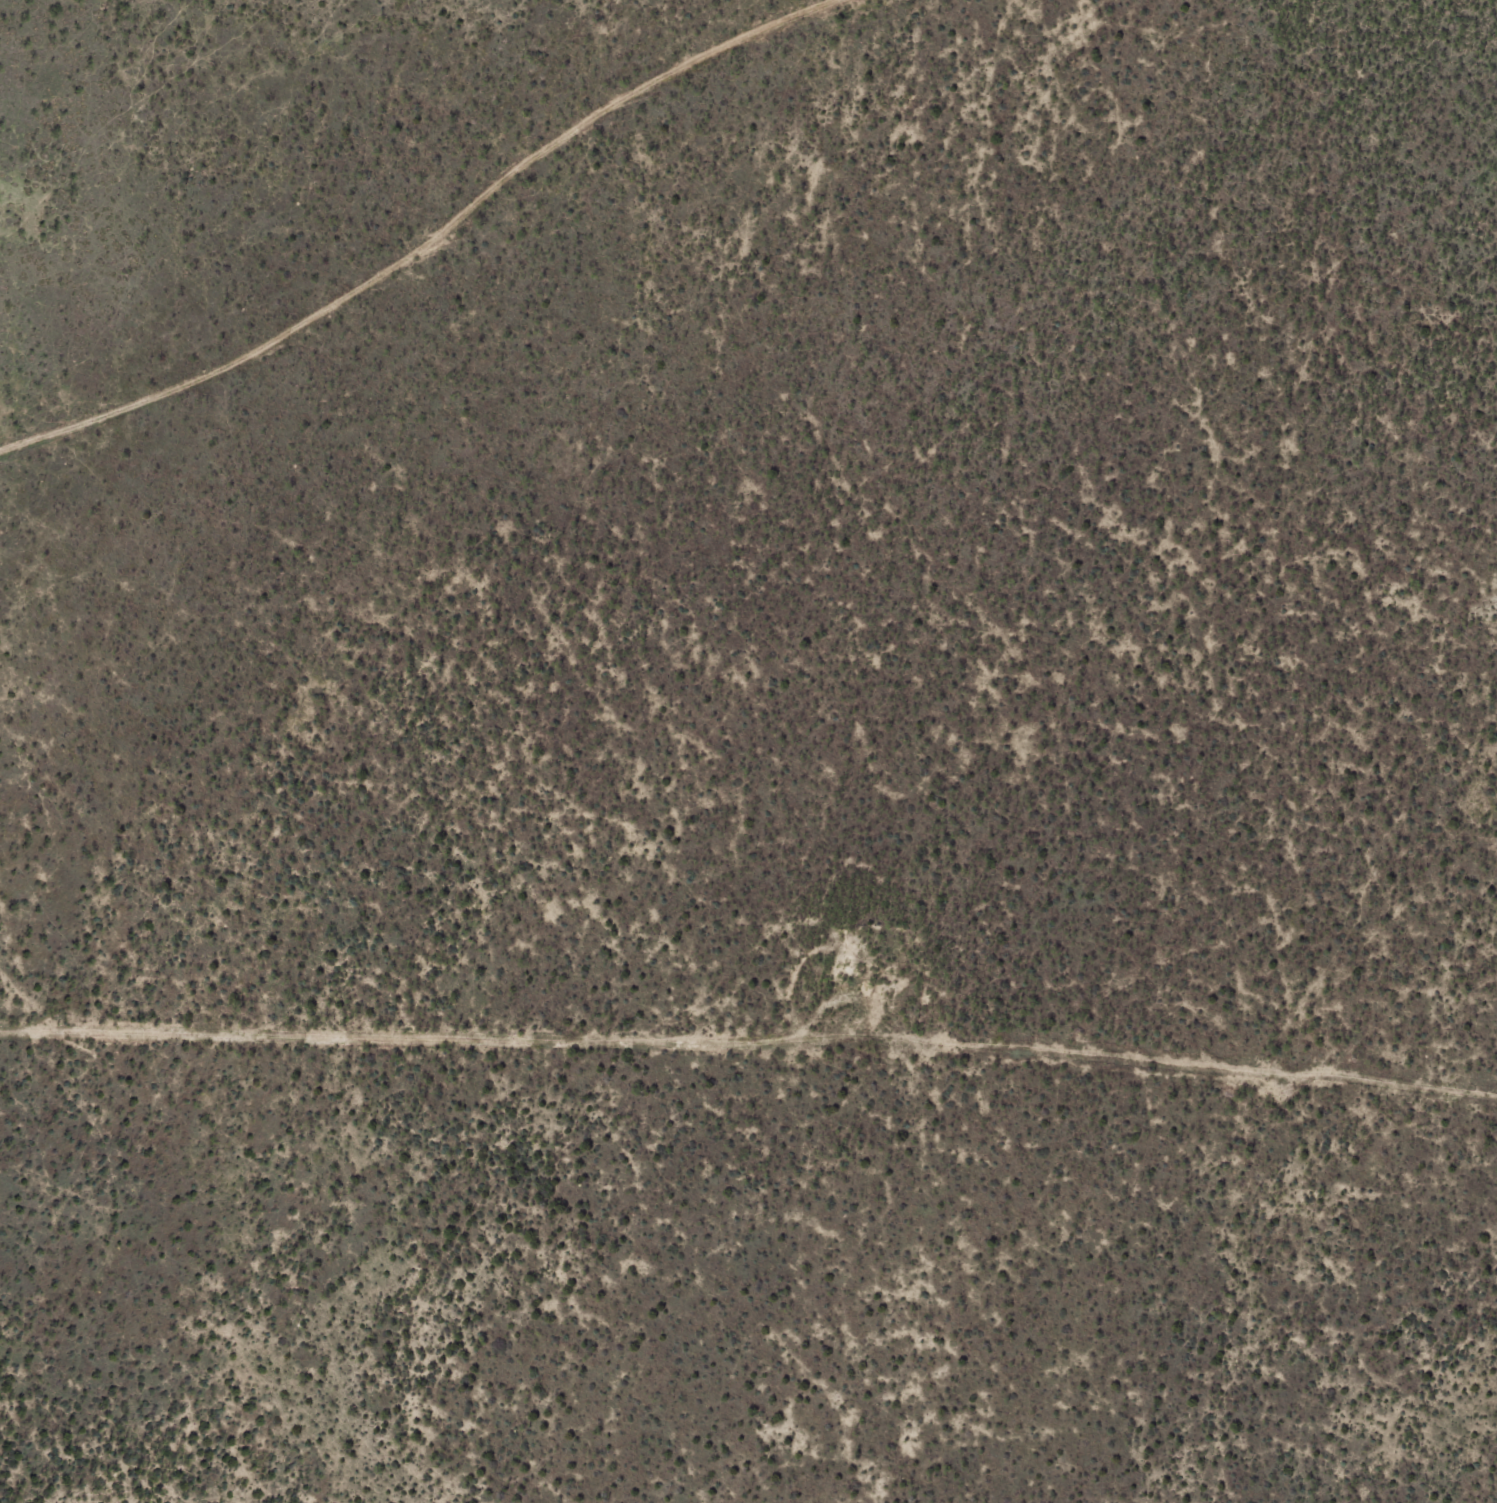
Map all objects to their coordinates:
road: (442, 254)
road: (447, 1036)

